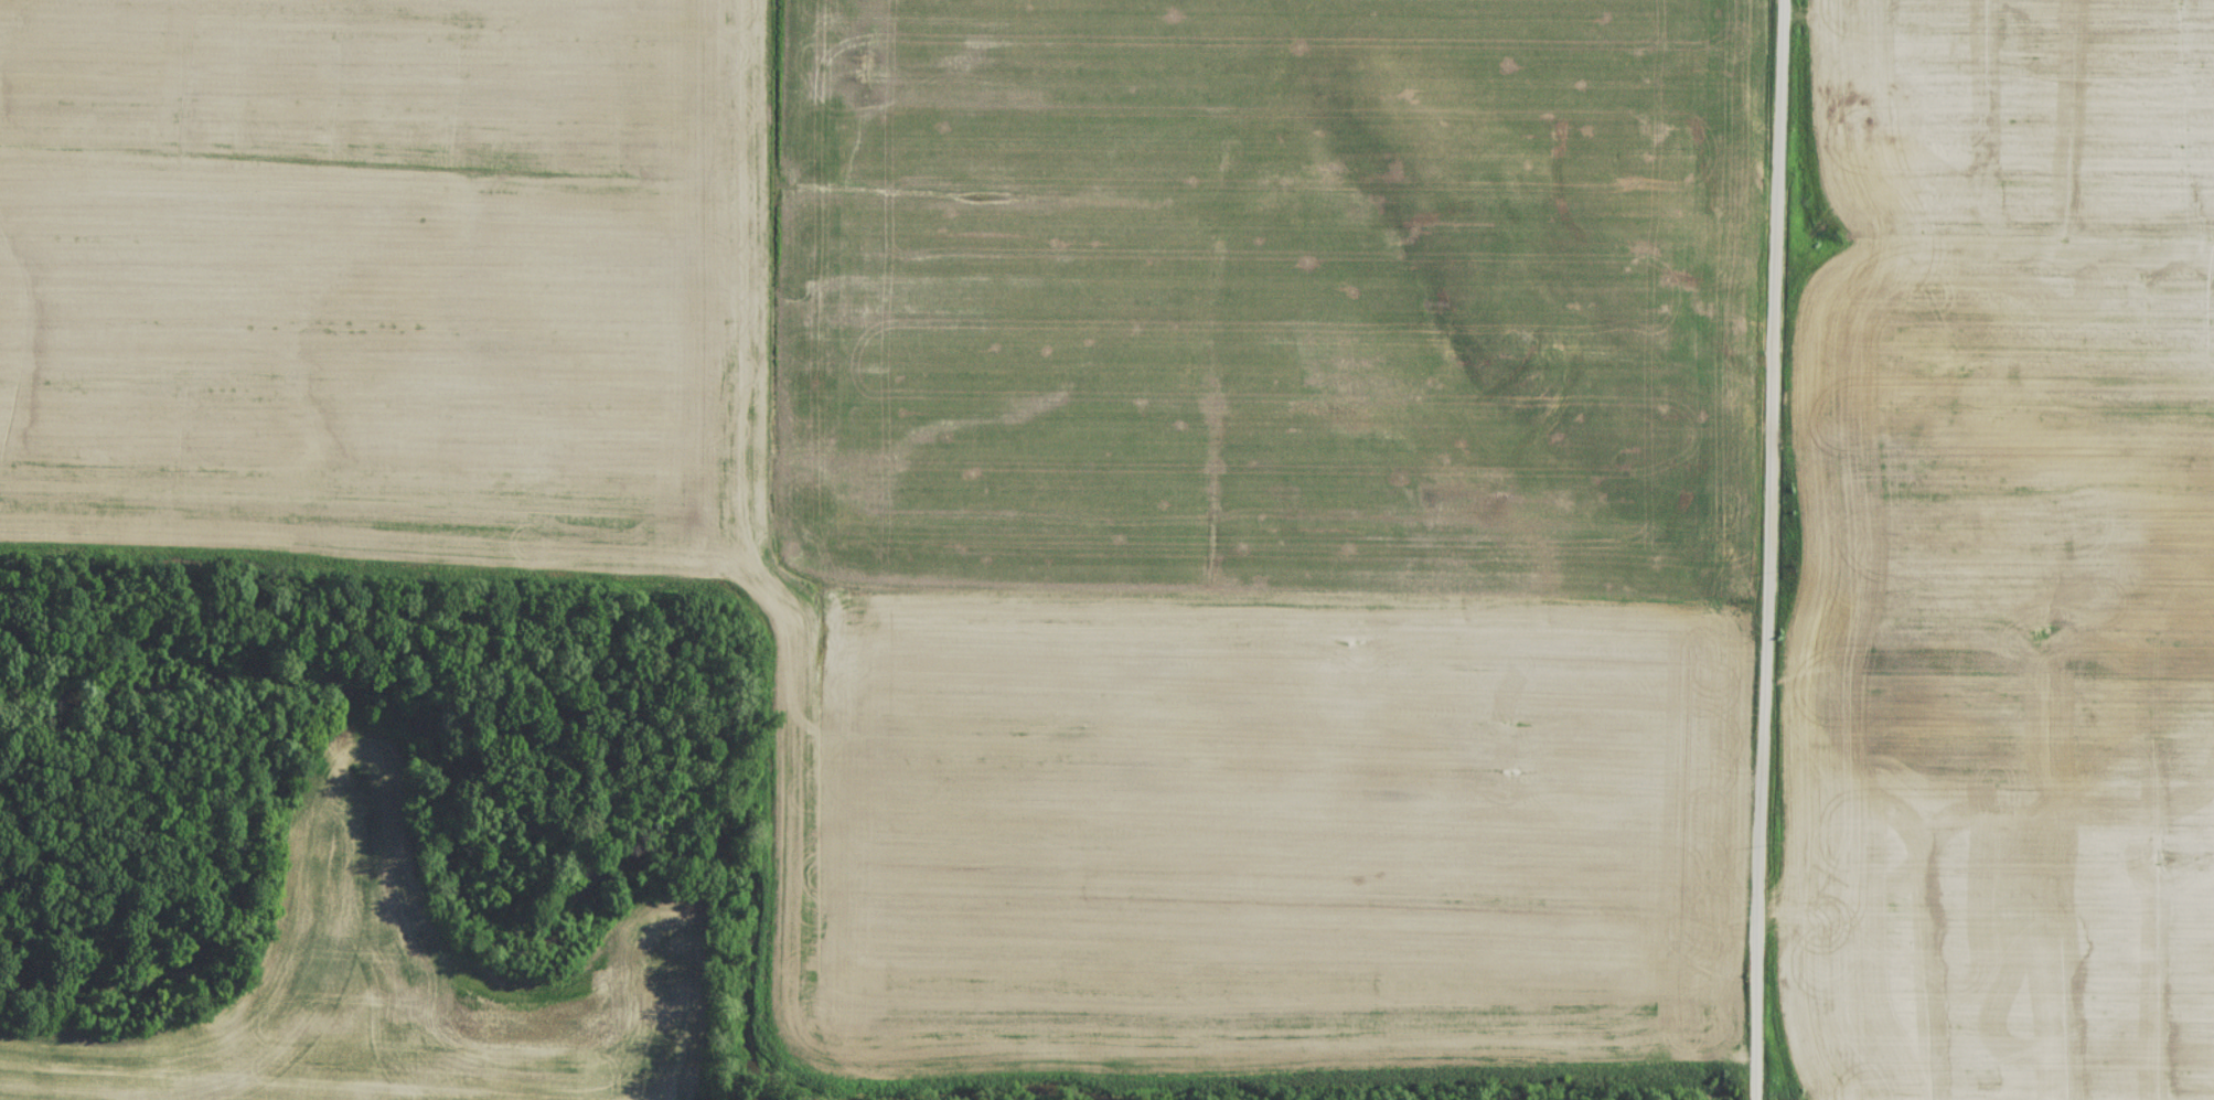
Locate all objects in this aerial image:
road: (1768, 549)

